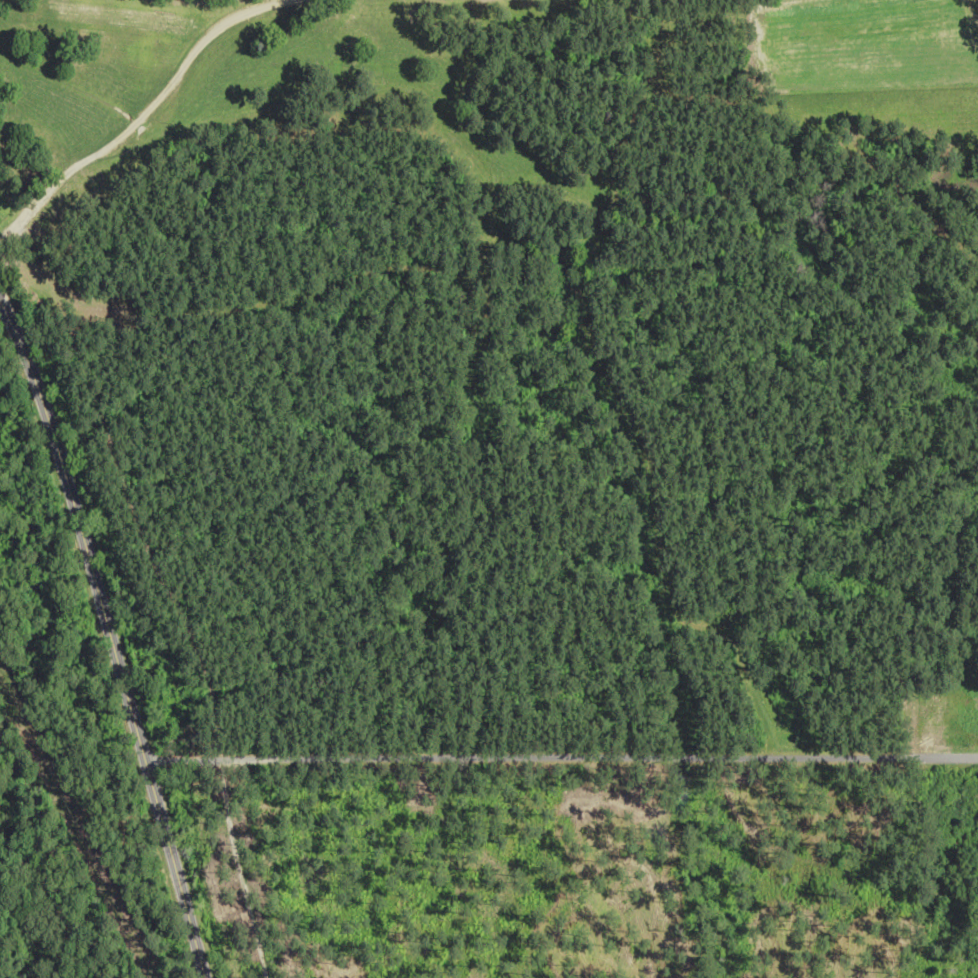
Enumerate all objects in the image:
road: (135, 118)
road: (108, 639)
road: (568, 757)
road: (152, 761)

